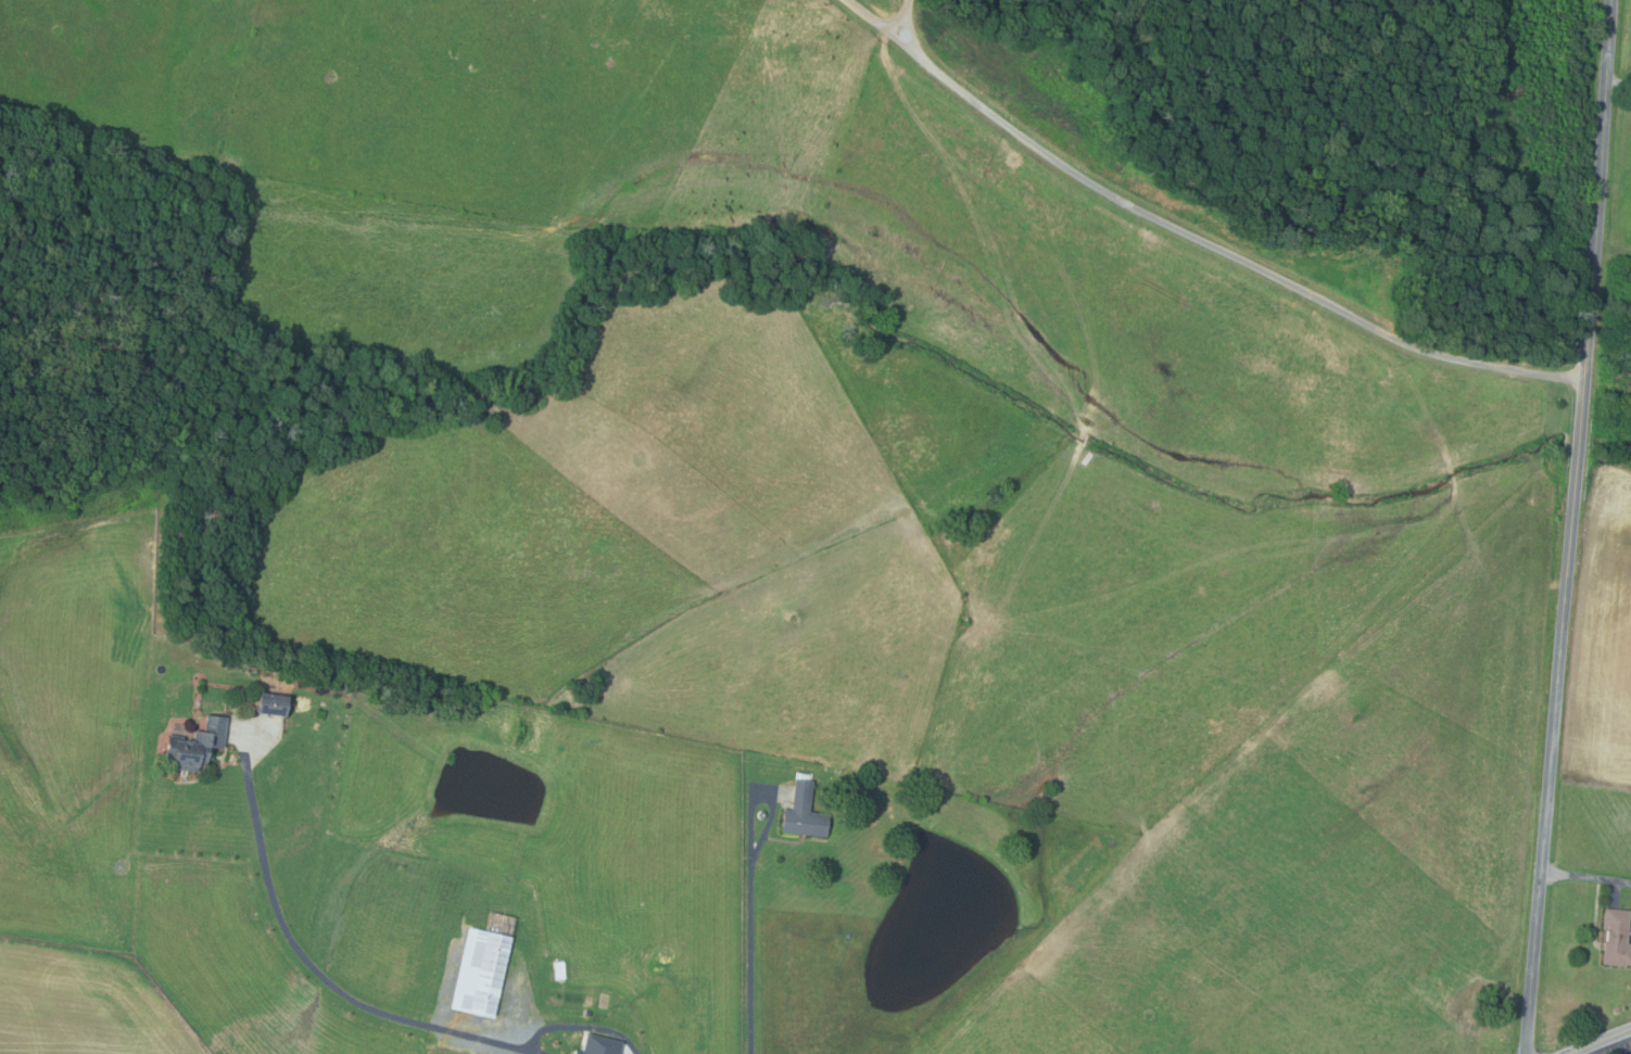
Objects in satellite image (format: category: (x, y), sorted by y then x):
road: (903, 18)
road: (1618, 82)
road: (1193, 236)
road: (1570, 526)
building: (274, 702)
building: (197, 744)
building: (806, 813)
road: (1585, 874)
building: (1614, 938)
road: (751, 940)
building: (560, 969)
building: (482, 972)
road: (325, 975)
crop: (85, 1004)
building: (587, 1012)
road: (582, 1025)
road: (1601, 1042)
building: (600, 1045)
road: (1573, 1053)

